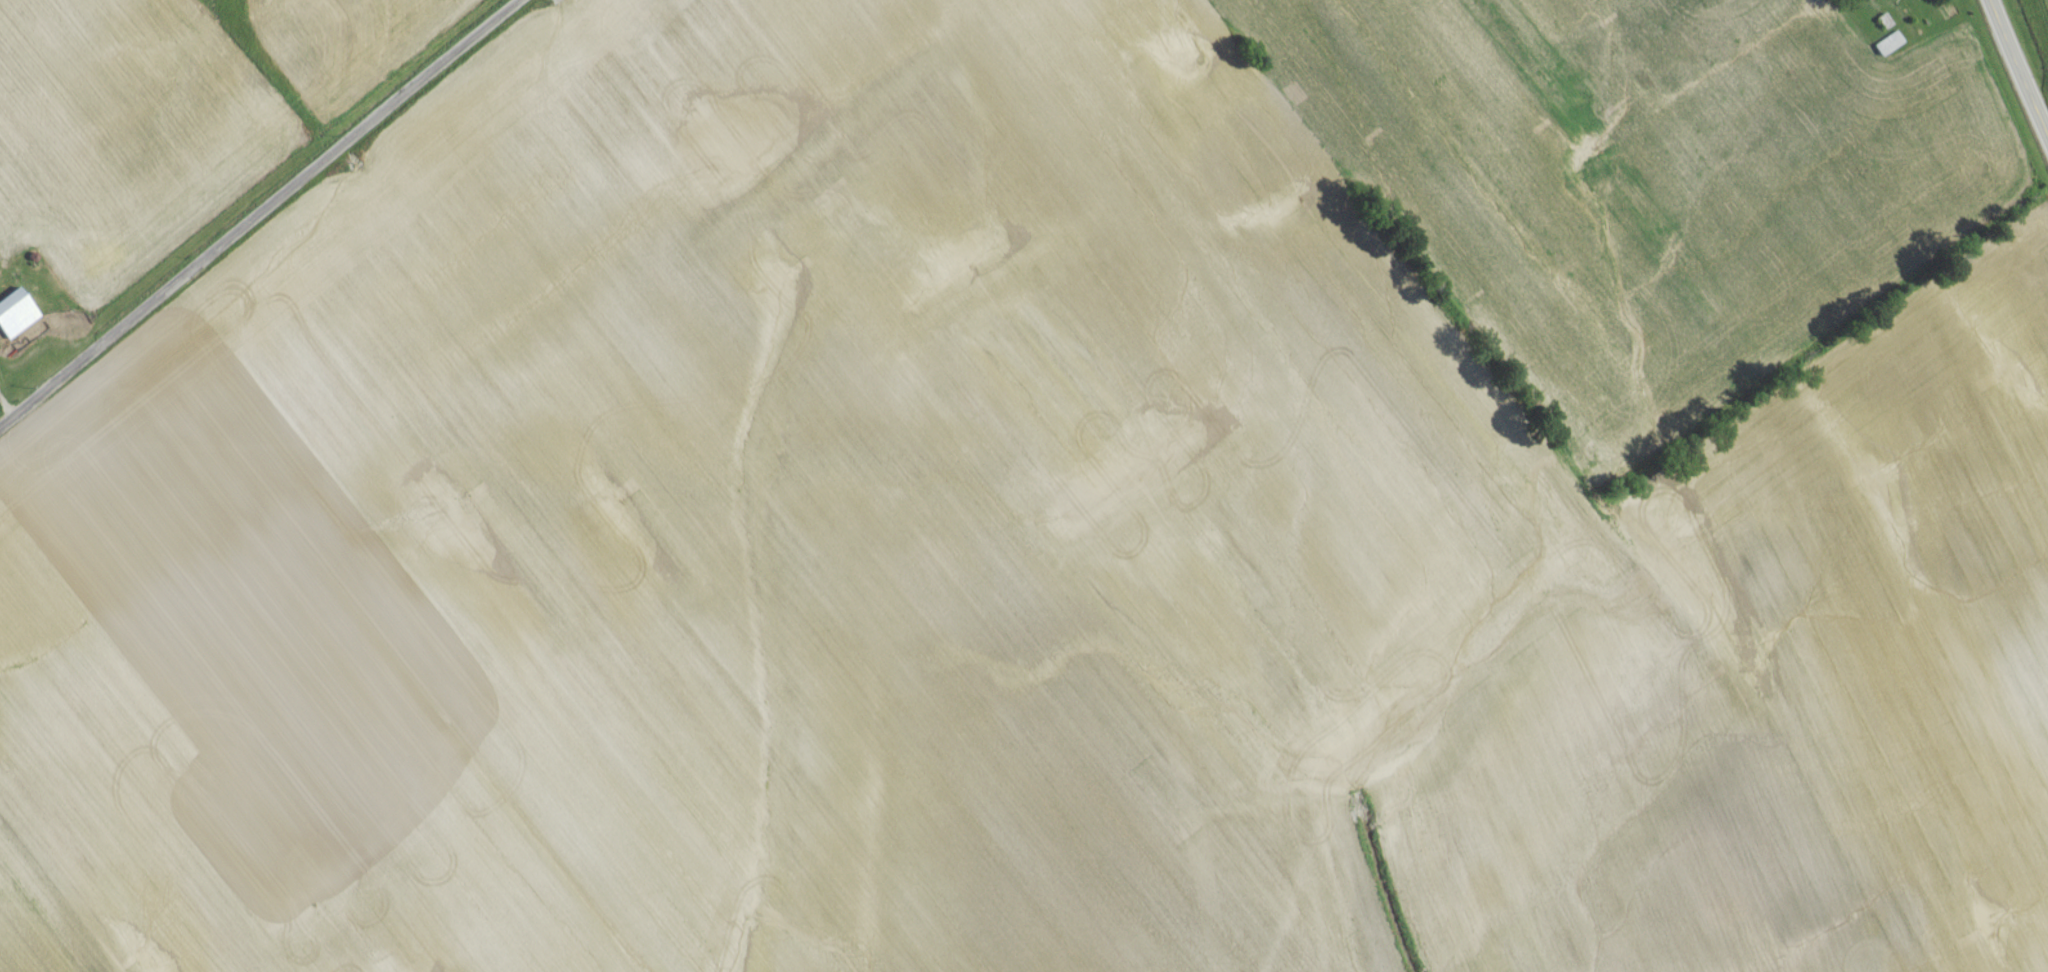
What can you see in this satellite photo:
road: (2017, 71)
road: (257, 210)
building: (14, 320)

